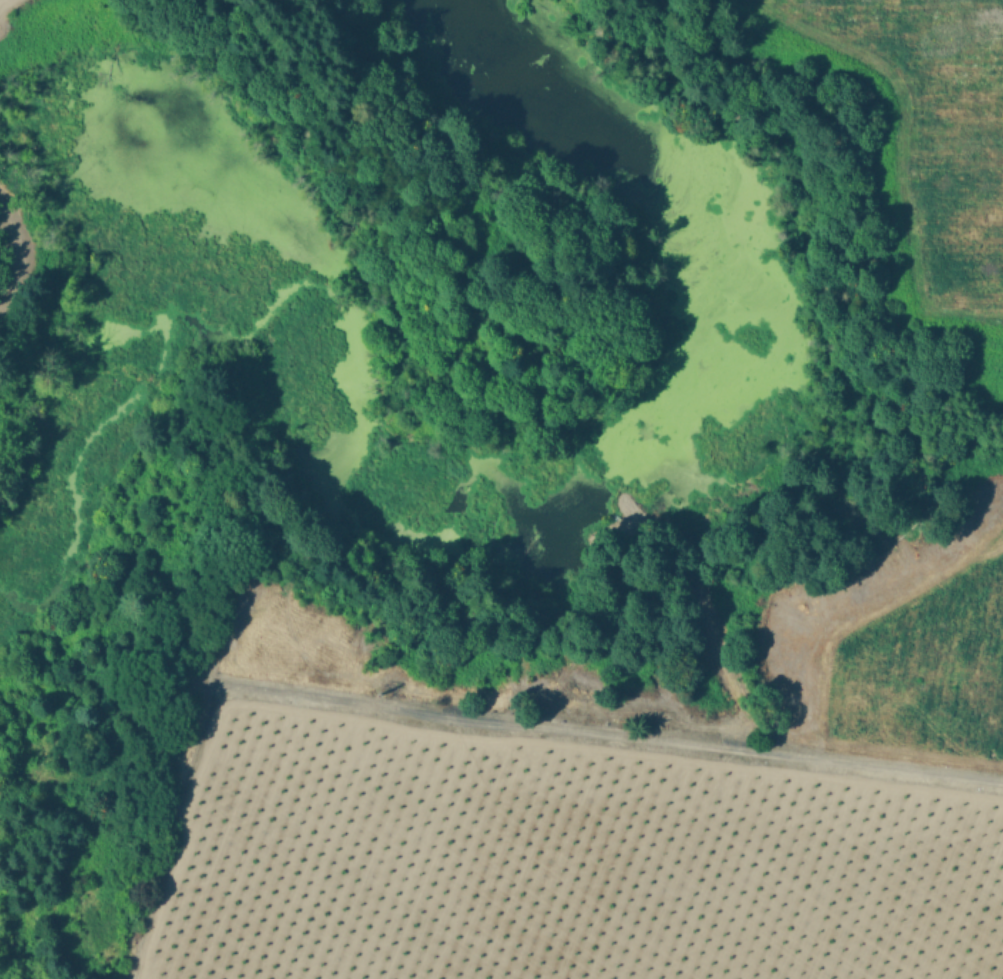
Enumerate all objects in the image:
crop: (922, 127)
crop: (607, 824)

